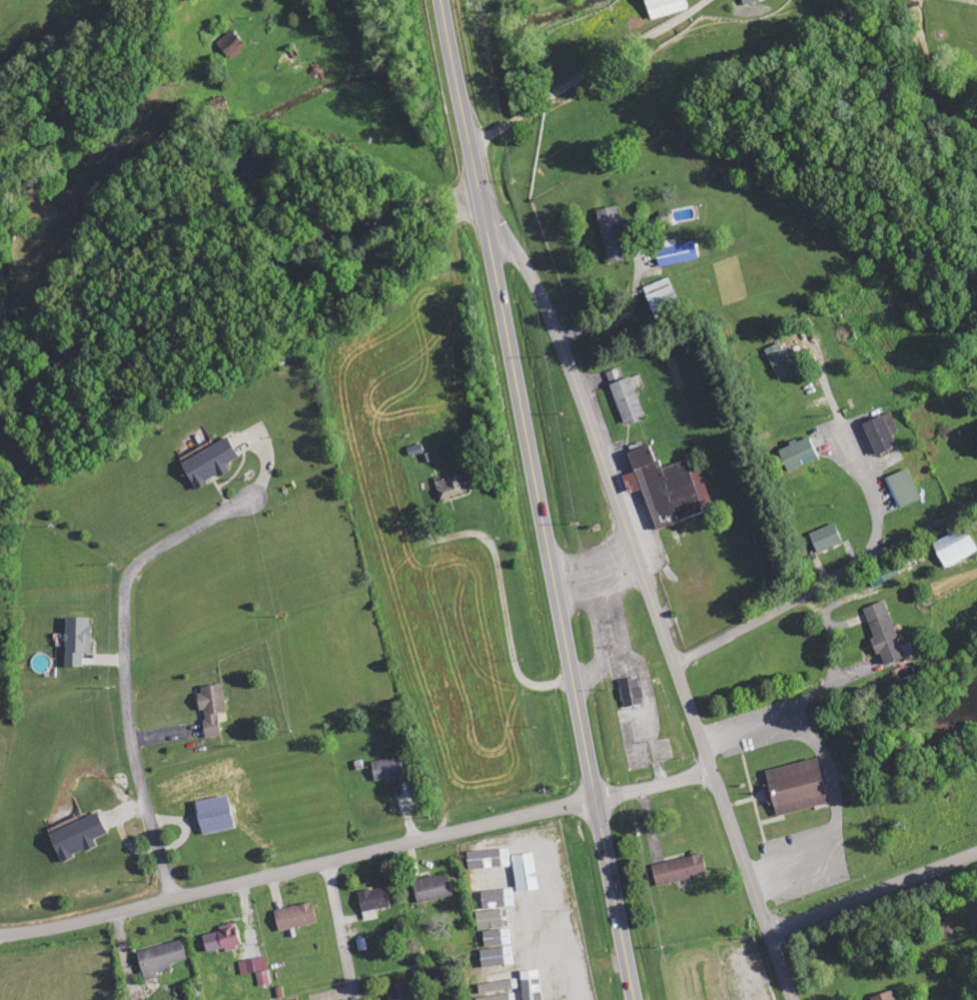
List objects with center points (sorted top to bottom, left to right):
building: (748, 1)
building: (665, 7)
building: (231, 45)
road: (460, 95)
building: (71, 225)
building: (613, 233)
building: (676, 252)
building: (661, 295)
building: (779, 360)
building: (628, 401)
building: (881, 432)
building: (798, 453)
building: (210, 463)
road: (609, 476)
building: (452, 486)
building: (670, 486)
building: (904, 487)
road: (538, 494)
building: (826, 538)
building: (956, 545)
building: (886, 634)
building: (78, 640)
road: (125, 663)
building: (631, 691)
building: (212, 708)
building: (388, 769)
road: (655, 787)
building: (797, 787)
building: (216, 815)
building: (78, 837)
road: (742, 854)
building: (491, 857)
road: (298, 865)
building: (680, 869)
building: (491, 880)
building: (433, 888)
road: (873, 894)
road: (615, 900)
building: (374, 902)
building: (492, 910)
building: (296, 917)
road: (340, 929)
building: (223, 938)
building: (500, 938)
building: (162, 958)
building: (499, 958)
road: (781, 967)
building: (257, 969)
building: (498, 979)
building: (402, 993)
building: (885, 996)
building: (497, 997)
building: (562, 999)

